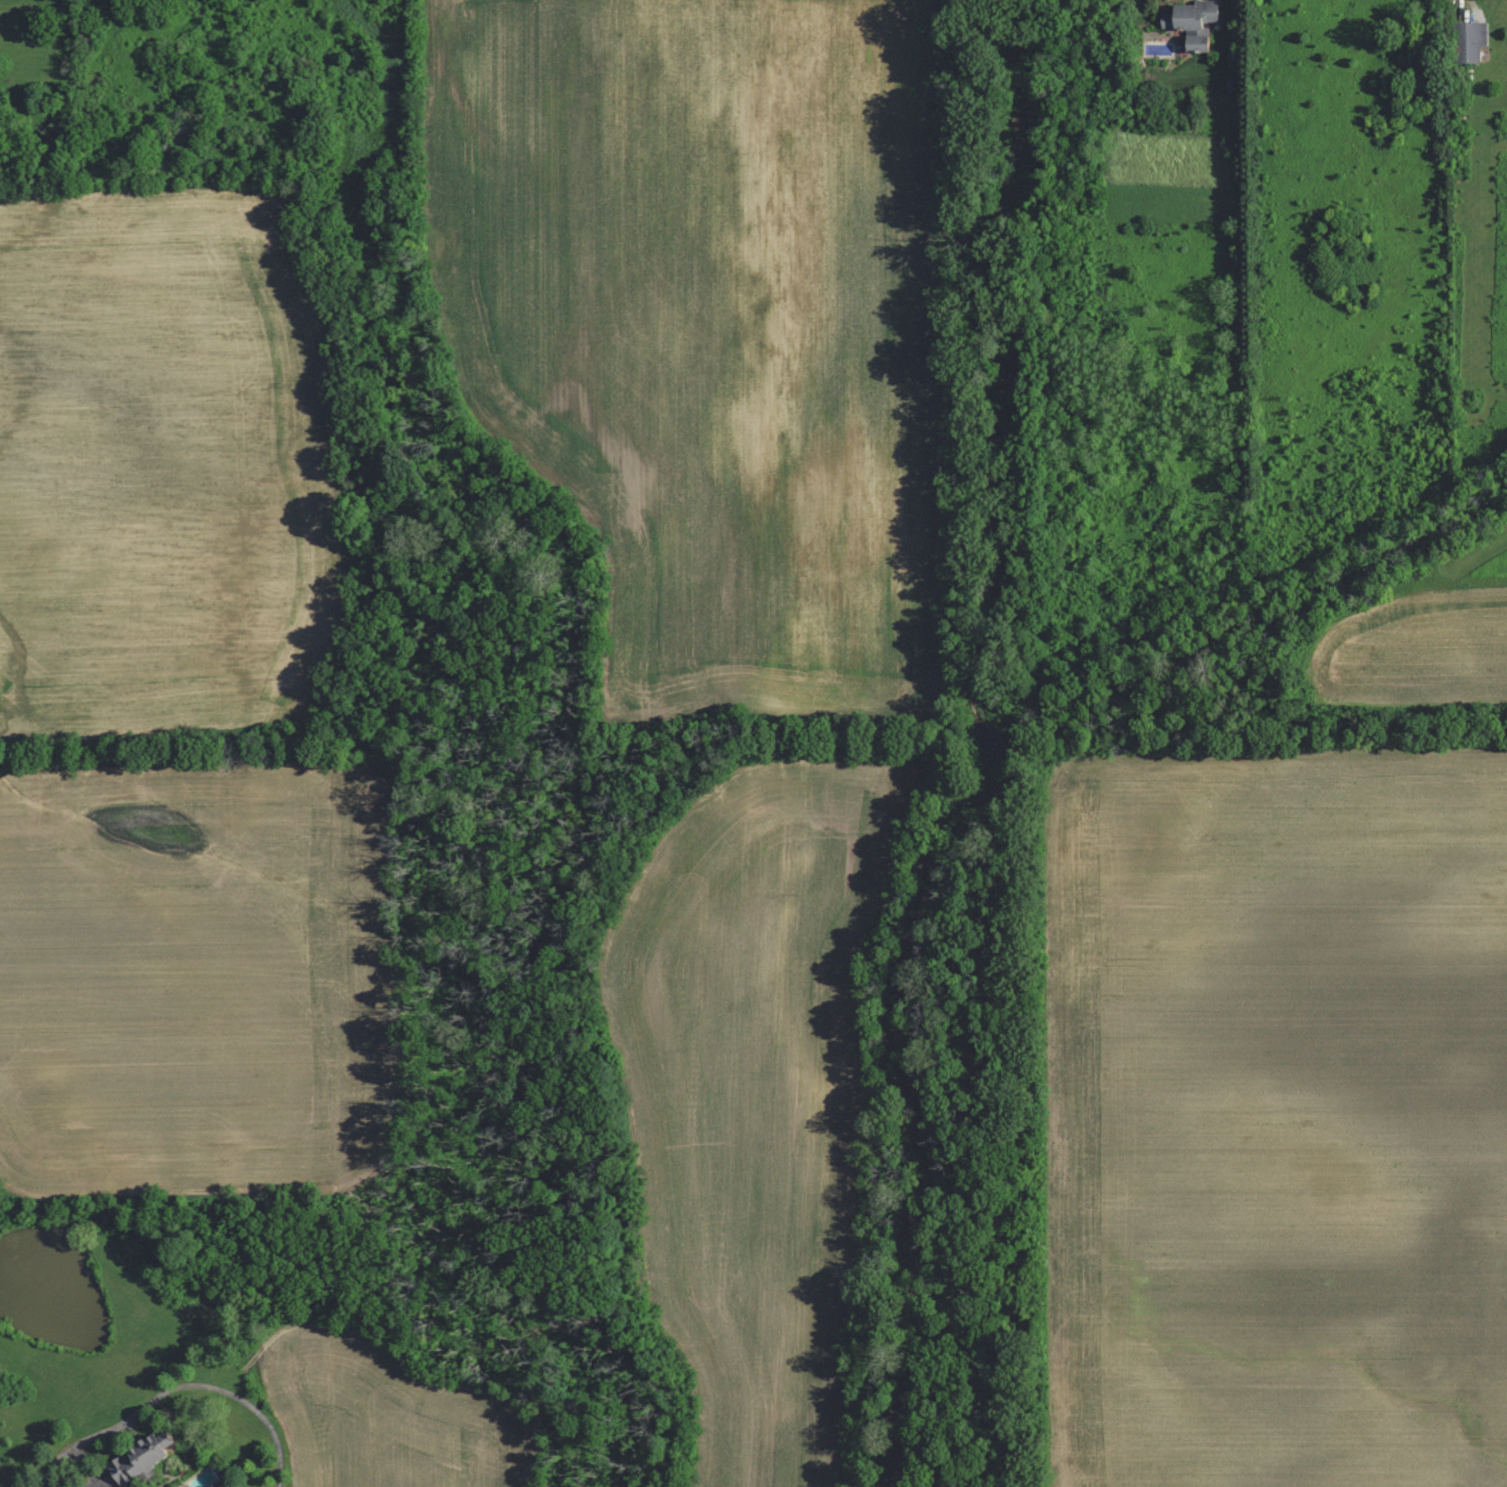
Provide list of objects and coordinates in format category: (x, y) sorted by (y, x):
building: (1191, 21)
building: (1469, 40)
road: (175, 1381)
building: (128, 1461)

